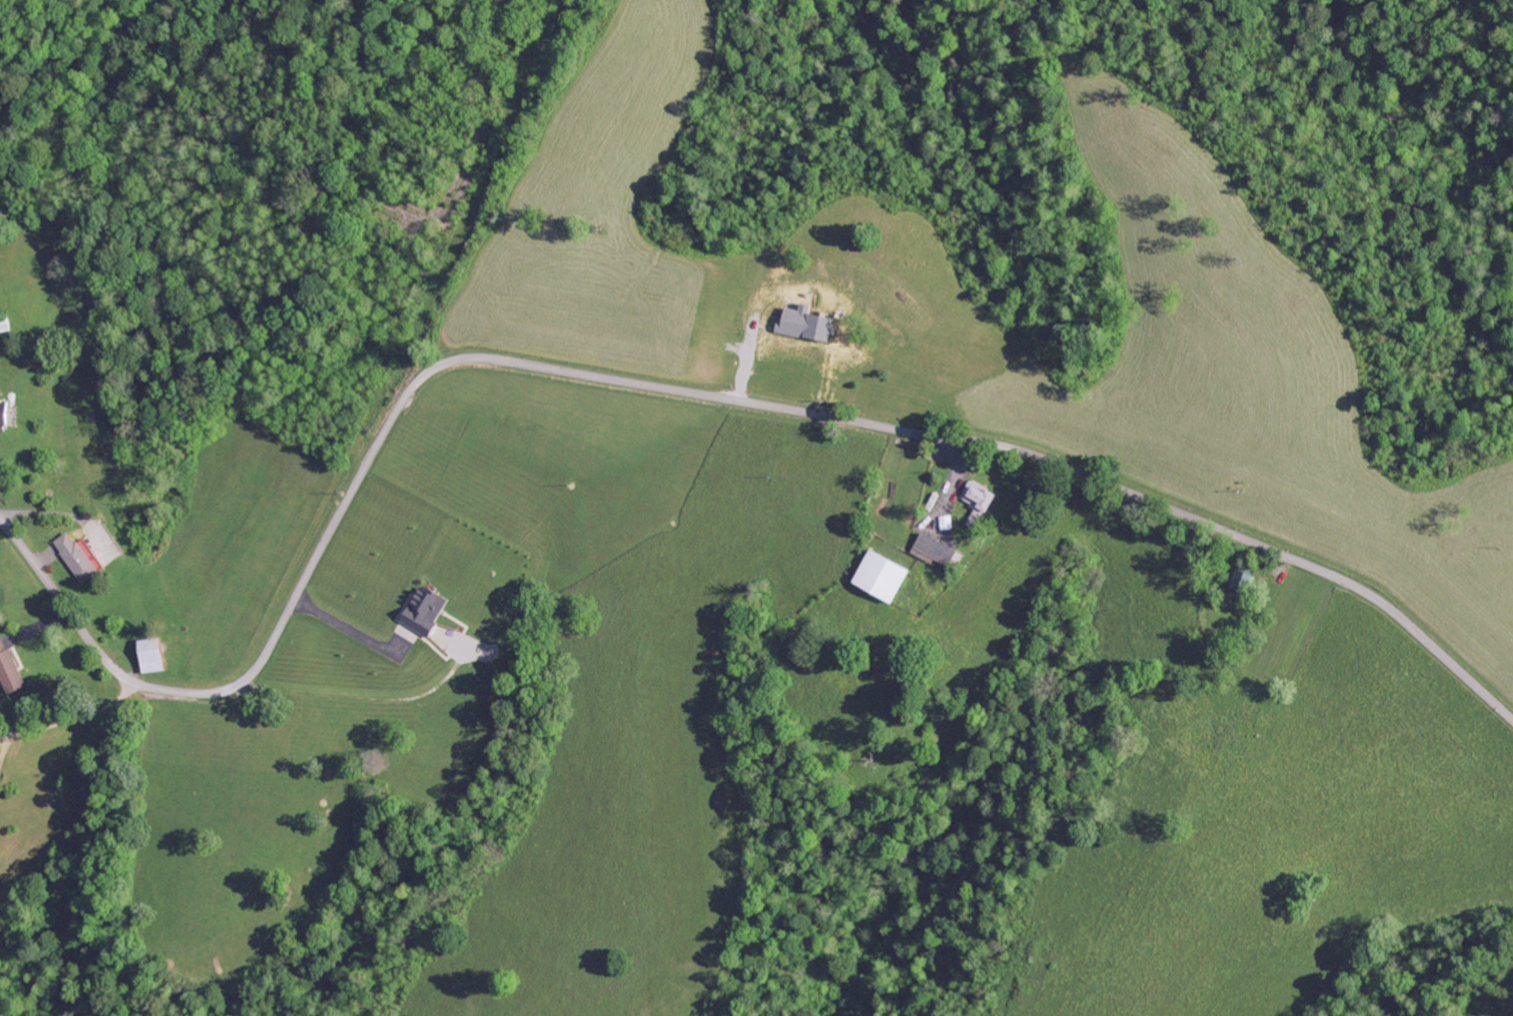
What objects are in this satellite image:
building: (7, 324)
building: (809, 324)
road: (668, 389)
building: (9, 415)
building: (980, 503)
building: (947, 523)
building: (936, 551)
building: (78, 557)
building: (886, 576)
building: (1244, 581)
building: (429, 611)
building: (154, 656)
building: (10, 669)

